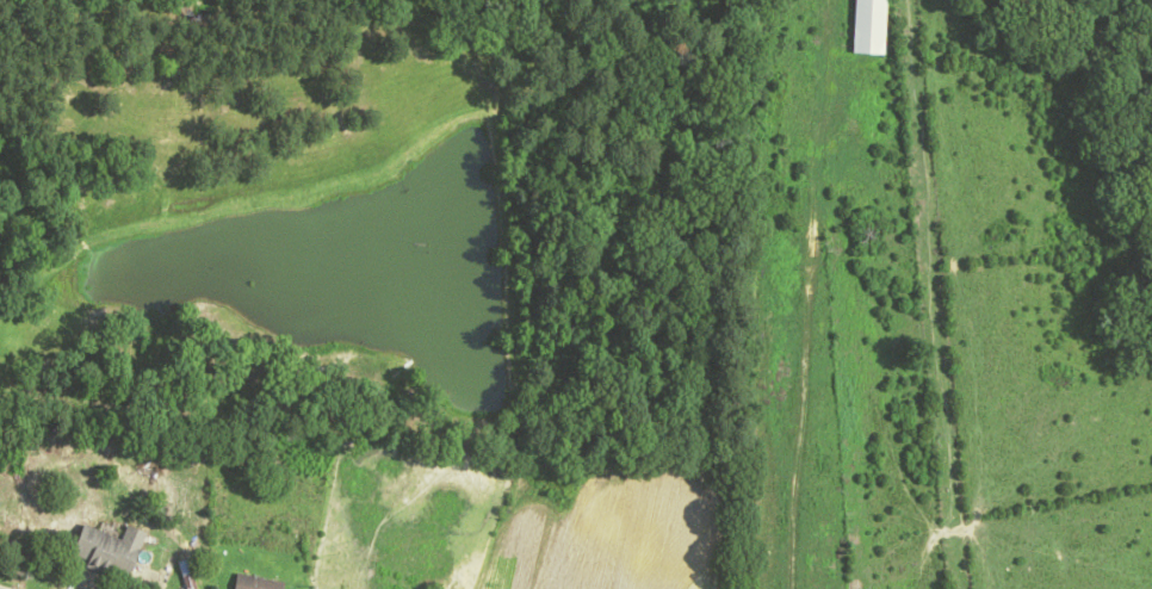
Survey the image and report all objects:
building: (869, 26)
building: (109, 550)
building: (256, 582)
road: (4, 587)
building: (330, 587)

